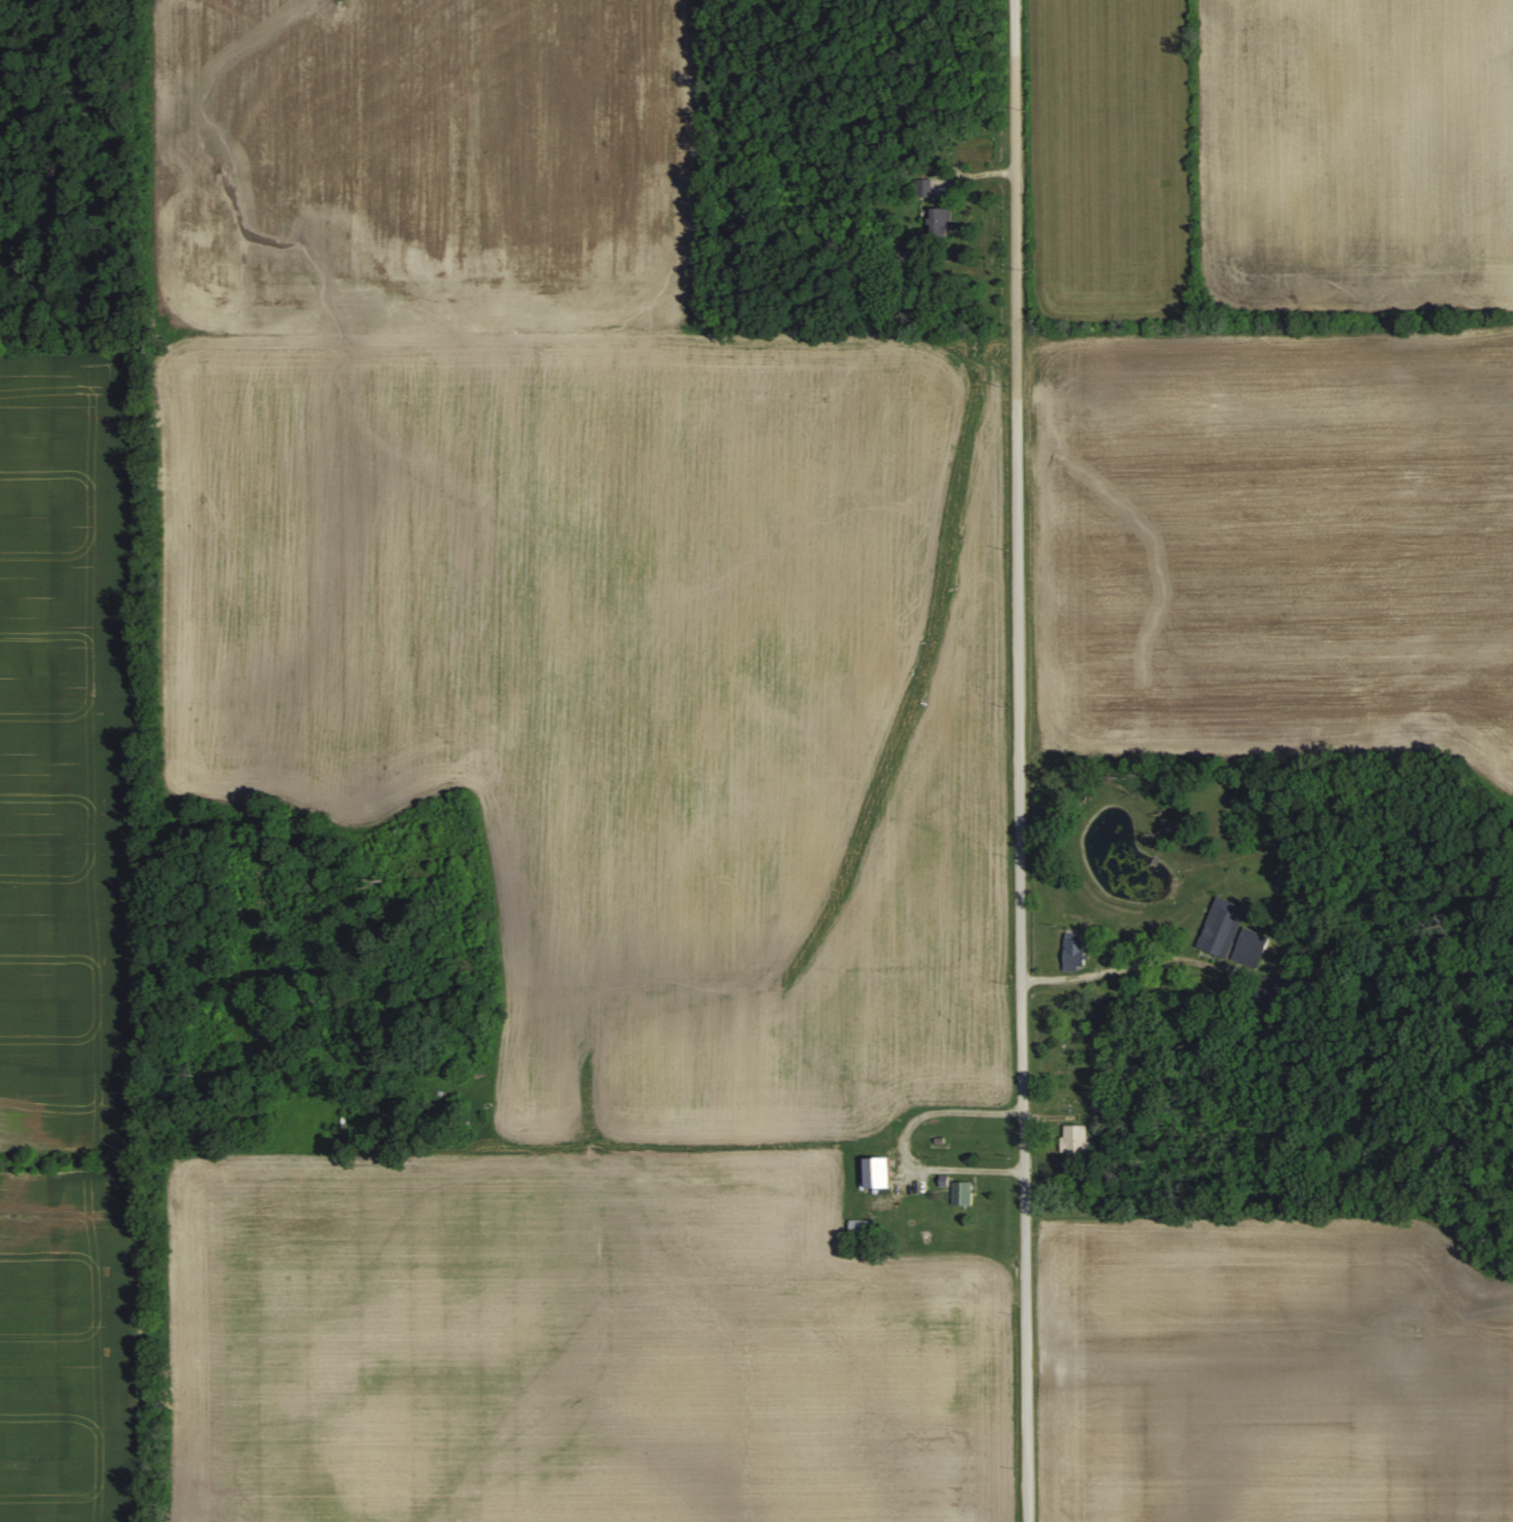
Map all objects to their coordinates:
building: (924, 187)
building: (942, 222)
road: (1016, 761)
building: (1232, 932)
building: (1073, 951)
road: (1114, 964)
road: (899, 1136)
building: (1075, 1137)
building: (873, 1172)
building: (958, 1190)

